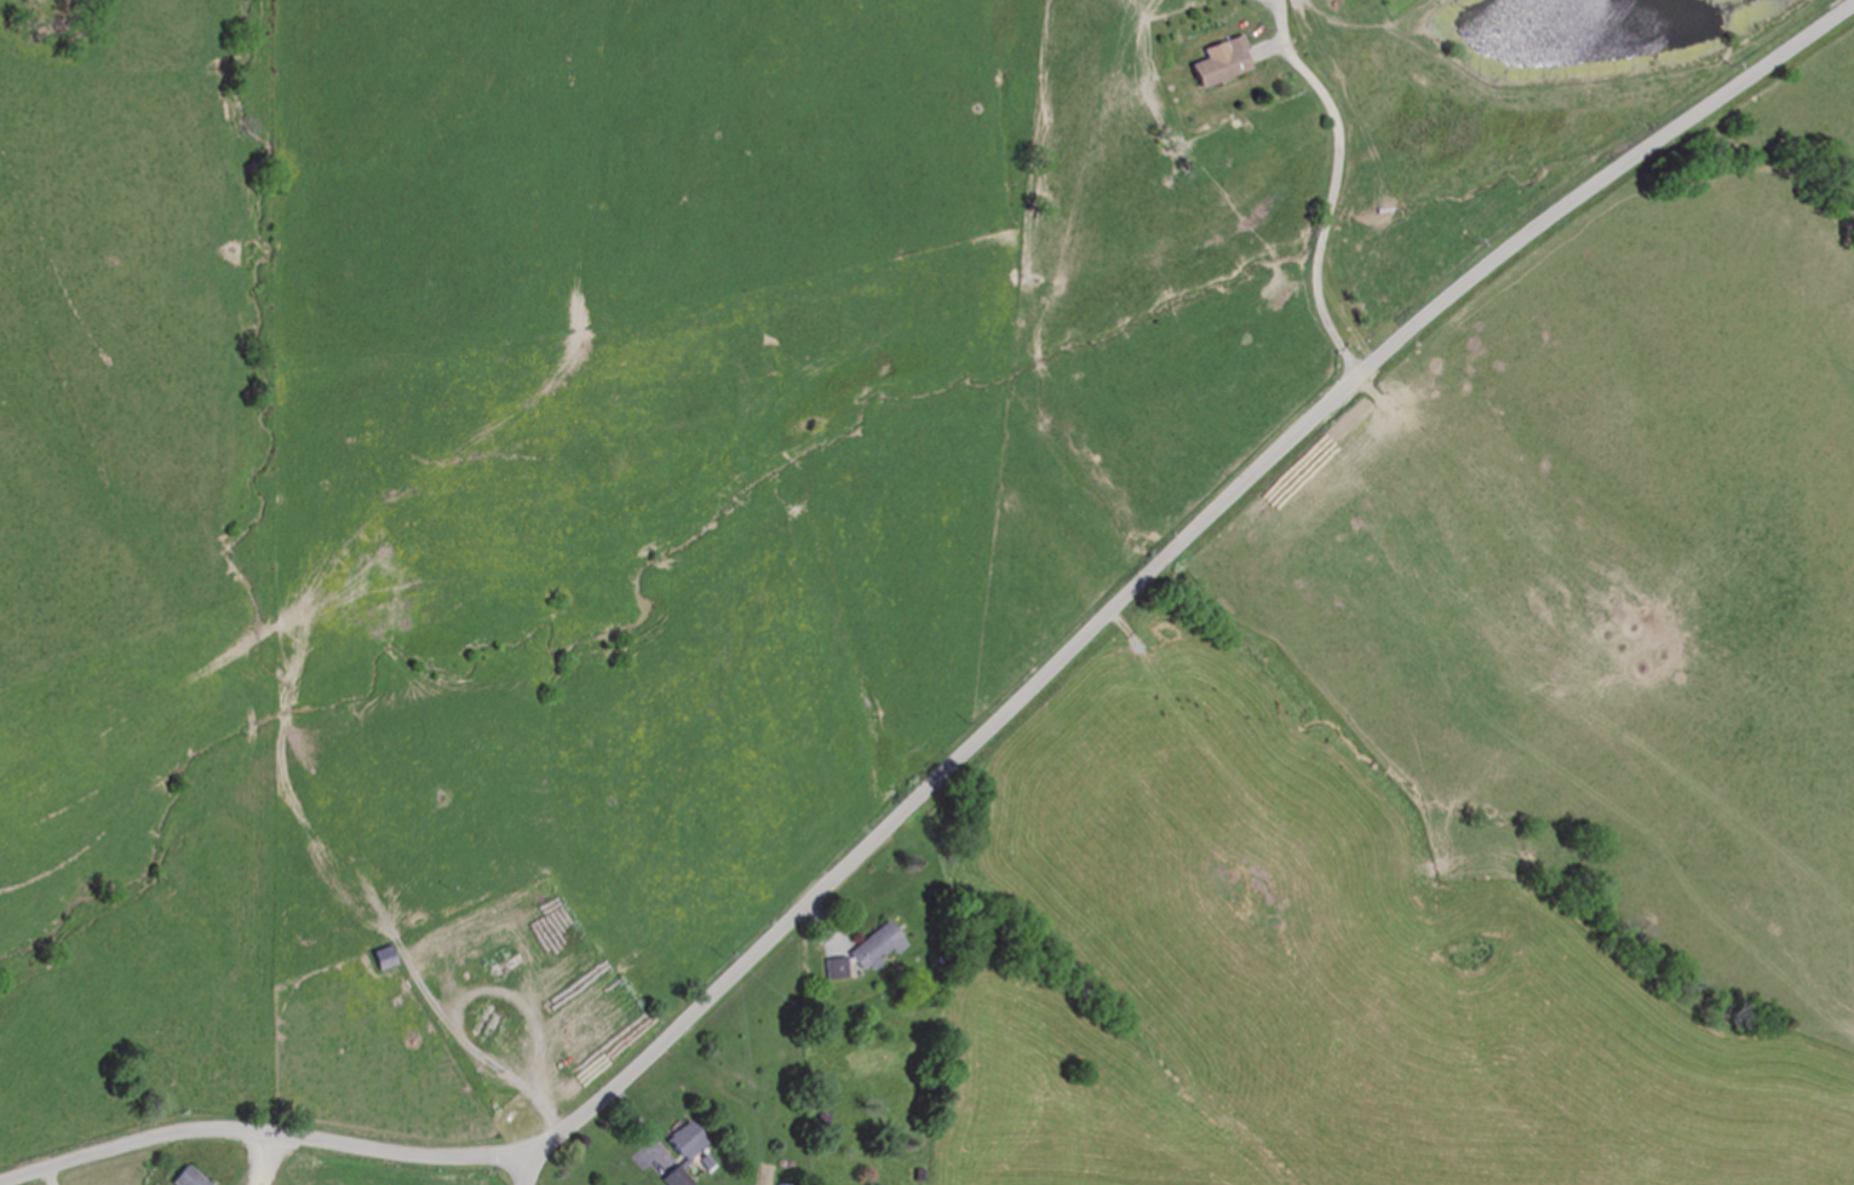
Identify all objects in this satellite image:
building: (1222, 63)
road: (1362, 206)
road: (1160, 564)
building: (874, 944)
building: (383, 959)
building: (837, 968)
building: (826, 1114)
road: (266, 1134)
building: (684, 1143)
building: (675, 1177)
building: (188, 1179)

